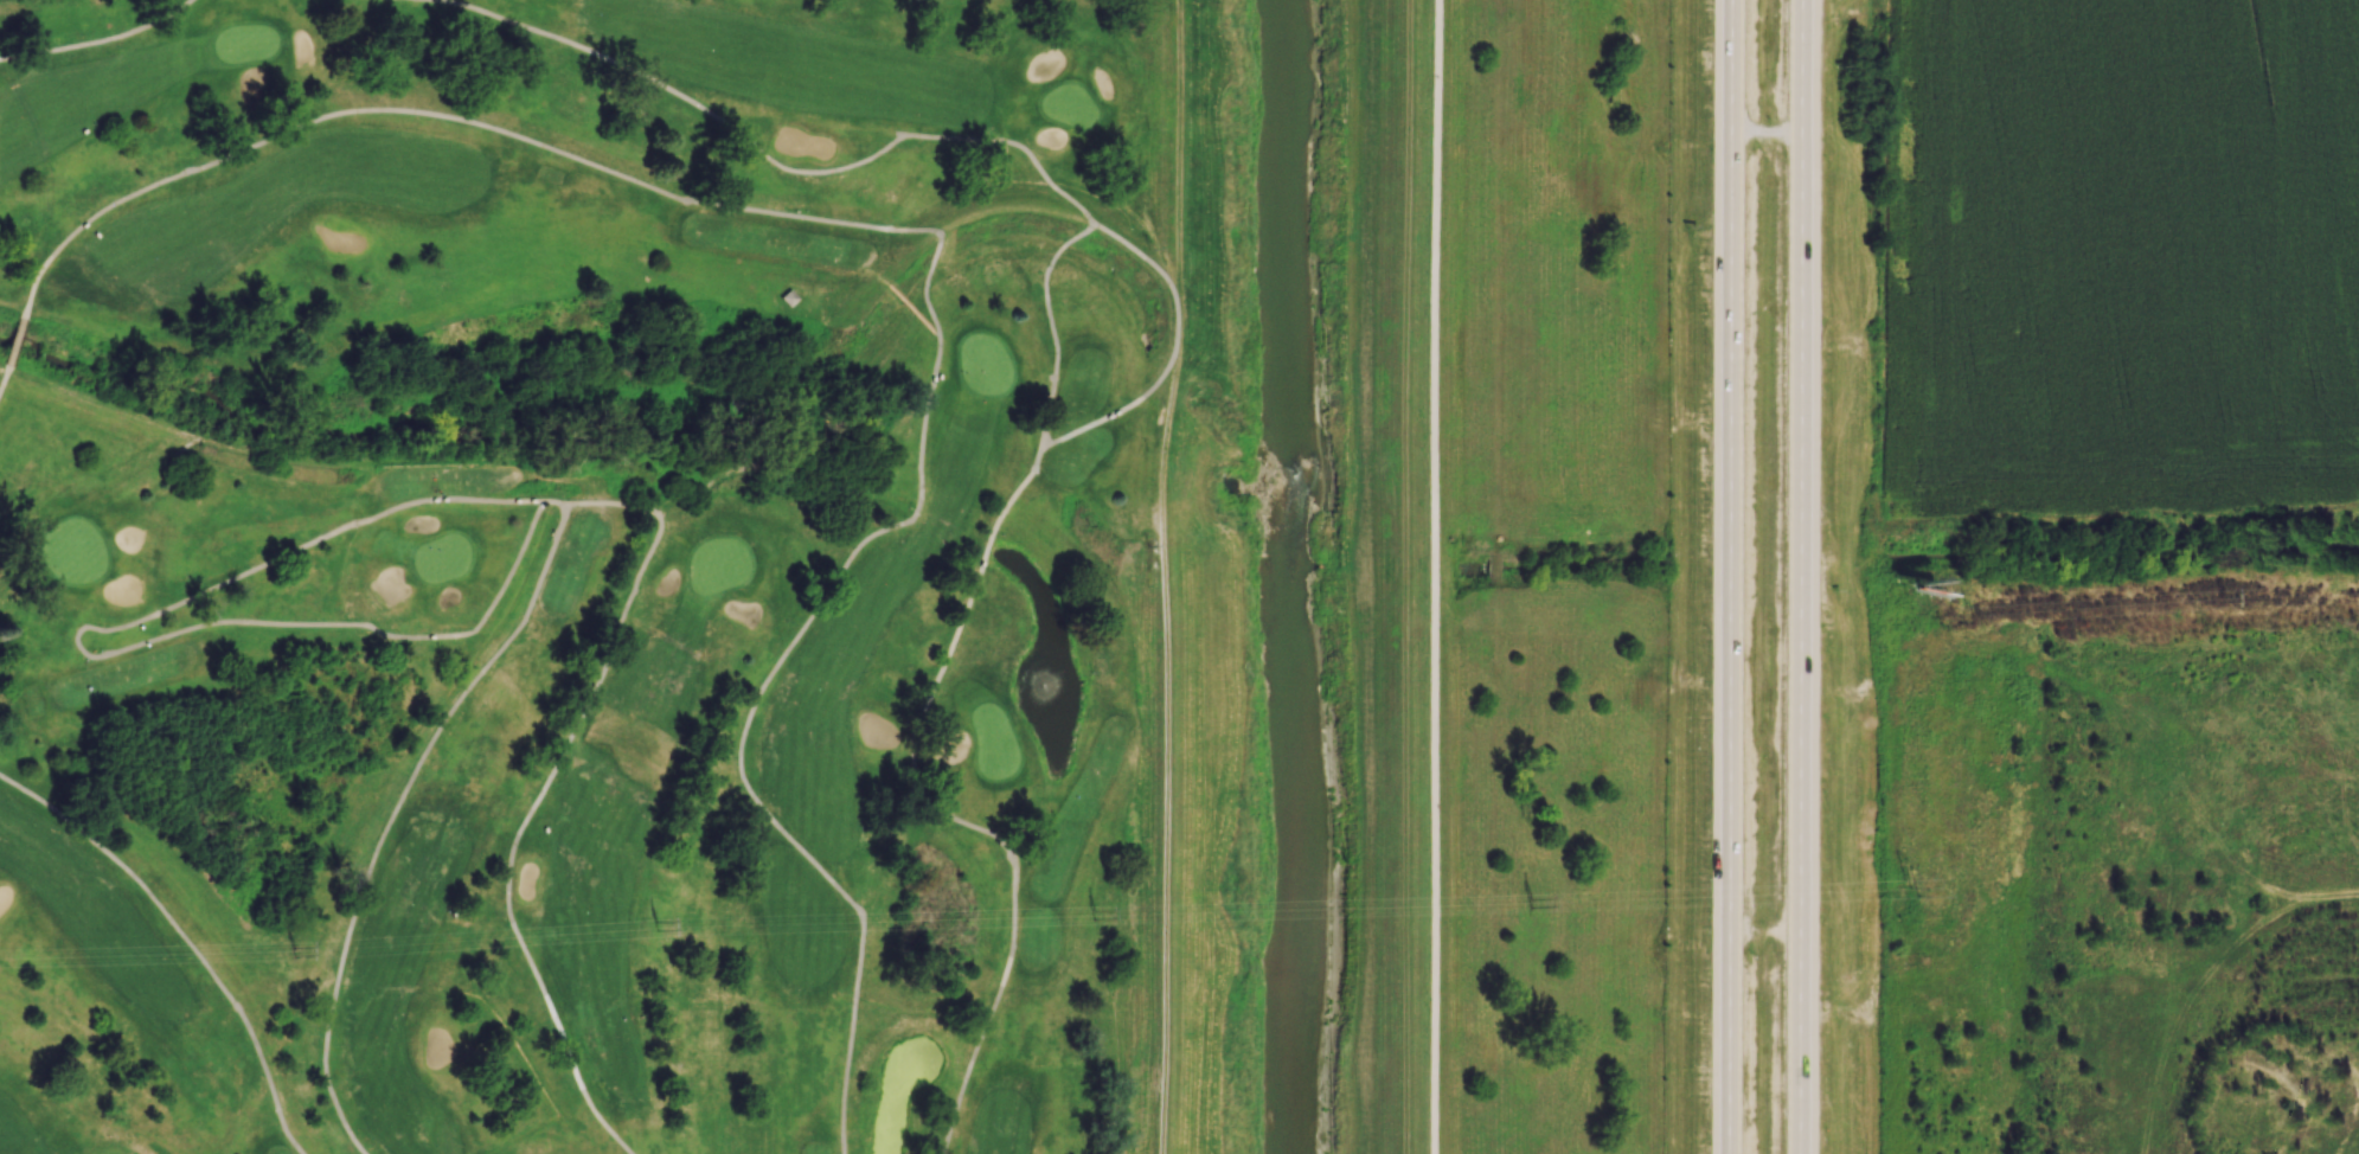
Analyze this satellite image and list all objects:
road: (97, 39)
road: (896, 133)
road: (1769, 134)
road: (576, 156)
road: (770, 159)
crop: (2122, 256)
river: (1286, 280)
building: (788, 297)
road: (1051, 325)
road: (13, 342)
road: (1171, 351)
road: (2, 373)
road: (1014, 491)
road: (555, 500)
road: (915, 508)
road: (354, 521)
road: (986, 547)
park: (583, 575)
road: (1160, 576)
road: (1436, 576)
road: (1729, 576)
road: (1403, 577)
road: (1804, 577)
power tower: (2225, 601)
power tower: (1976, 614)
road: (540, 791)
road: (390, 815)
road: (769, 815)
road: (951, 816)
river: (1303, 857)
power tower: (1914, 884)
power tower: (1470, 908)
power tower: (1083, 912)
power tower: (639, 929)
road: (1768, 931)
road: (185, 937)
power tower: (301, 955)
road: (966, 1072)
road: (951, 1118)

